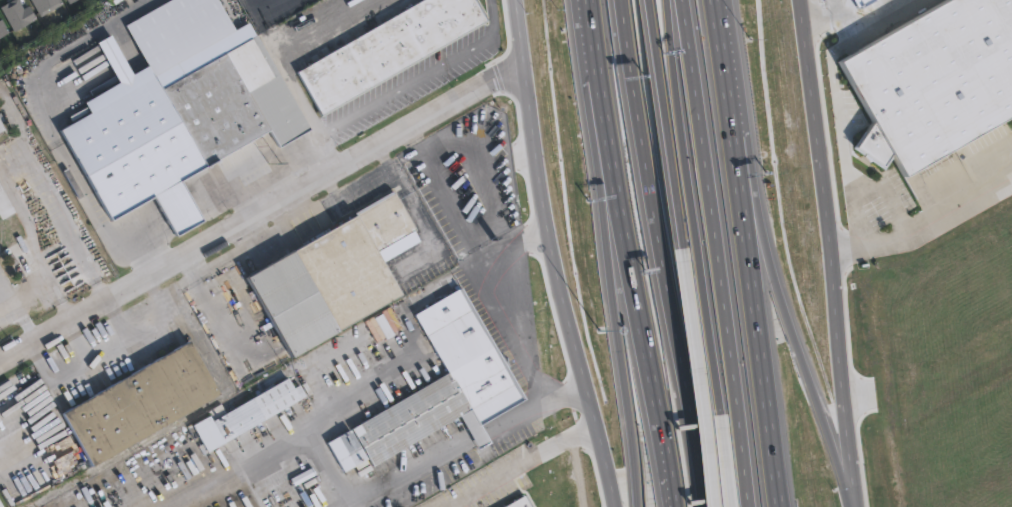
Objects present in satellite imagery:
building: (64, 0)
building: (67, 0)
building: (45, 5)
road: (718, 5)
building: (15, 13)
road: (270, 22)
building: (2, 28)
road: (861, 34)
building: (388, 50)
road: (291, 60)
road: (432, 80)
building: (939, 81)
road: (601, 98)
building: (222, 102)
building: (278, 104)
building: (1, 126)
road: (56, 126)
road: (689, 128)
road: (672, 130)
building: (136, 145)
road: (382, 158)
road: (30, 172)
building: (499, 172)
road: (330, 188)
road: (442, 198)
road: (286, 213)
road: (305, 213)
road: (260, 217)
road: (924, 225)
road: (424, 228)
road: (250, 234)
road: (657, 253)
road: (716, 253)
road: (827, 253)
road: (546, 256)
road: (749, 258)
road: (778, 260)
road: (194, 269)
building: (333, 276)
road: (28, 293)
road: (139, 317)
road: (224, 322)
building: (383, 325)
road: (520, 331)
road: (660, 348)
road: (624, 352)
road: (94, 355)
road: (53, 375)
road: (386, 378)
road: (726, 381)
road: (709, 383)
building: (439, 385)
building: (141, 403)
building: (261, 407)
road: (466, 439)
road: (335, 467)
road: (520, 467)
building: (556, 495)

